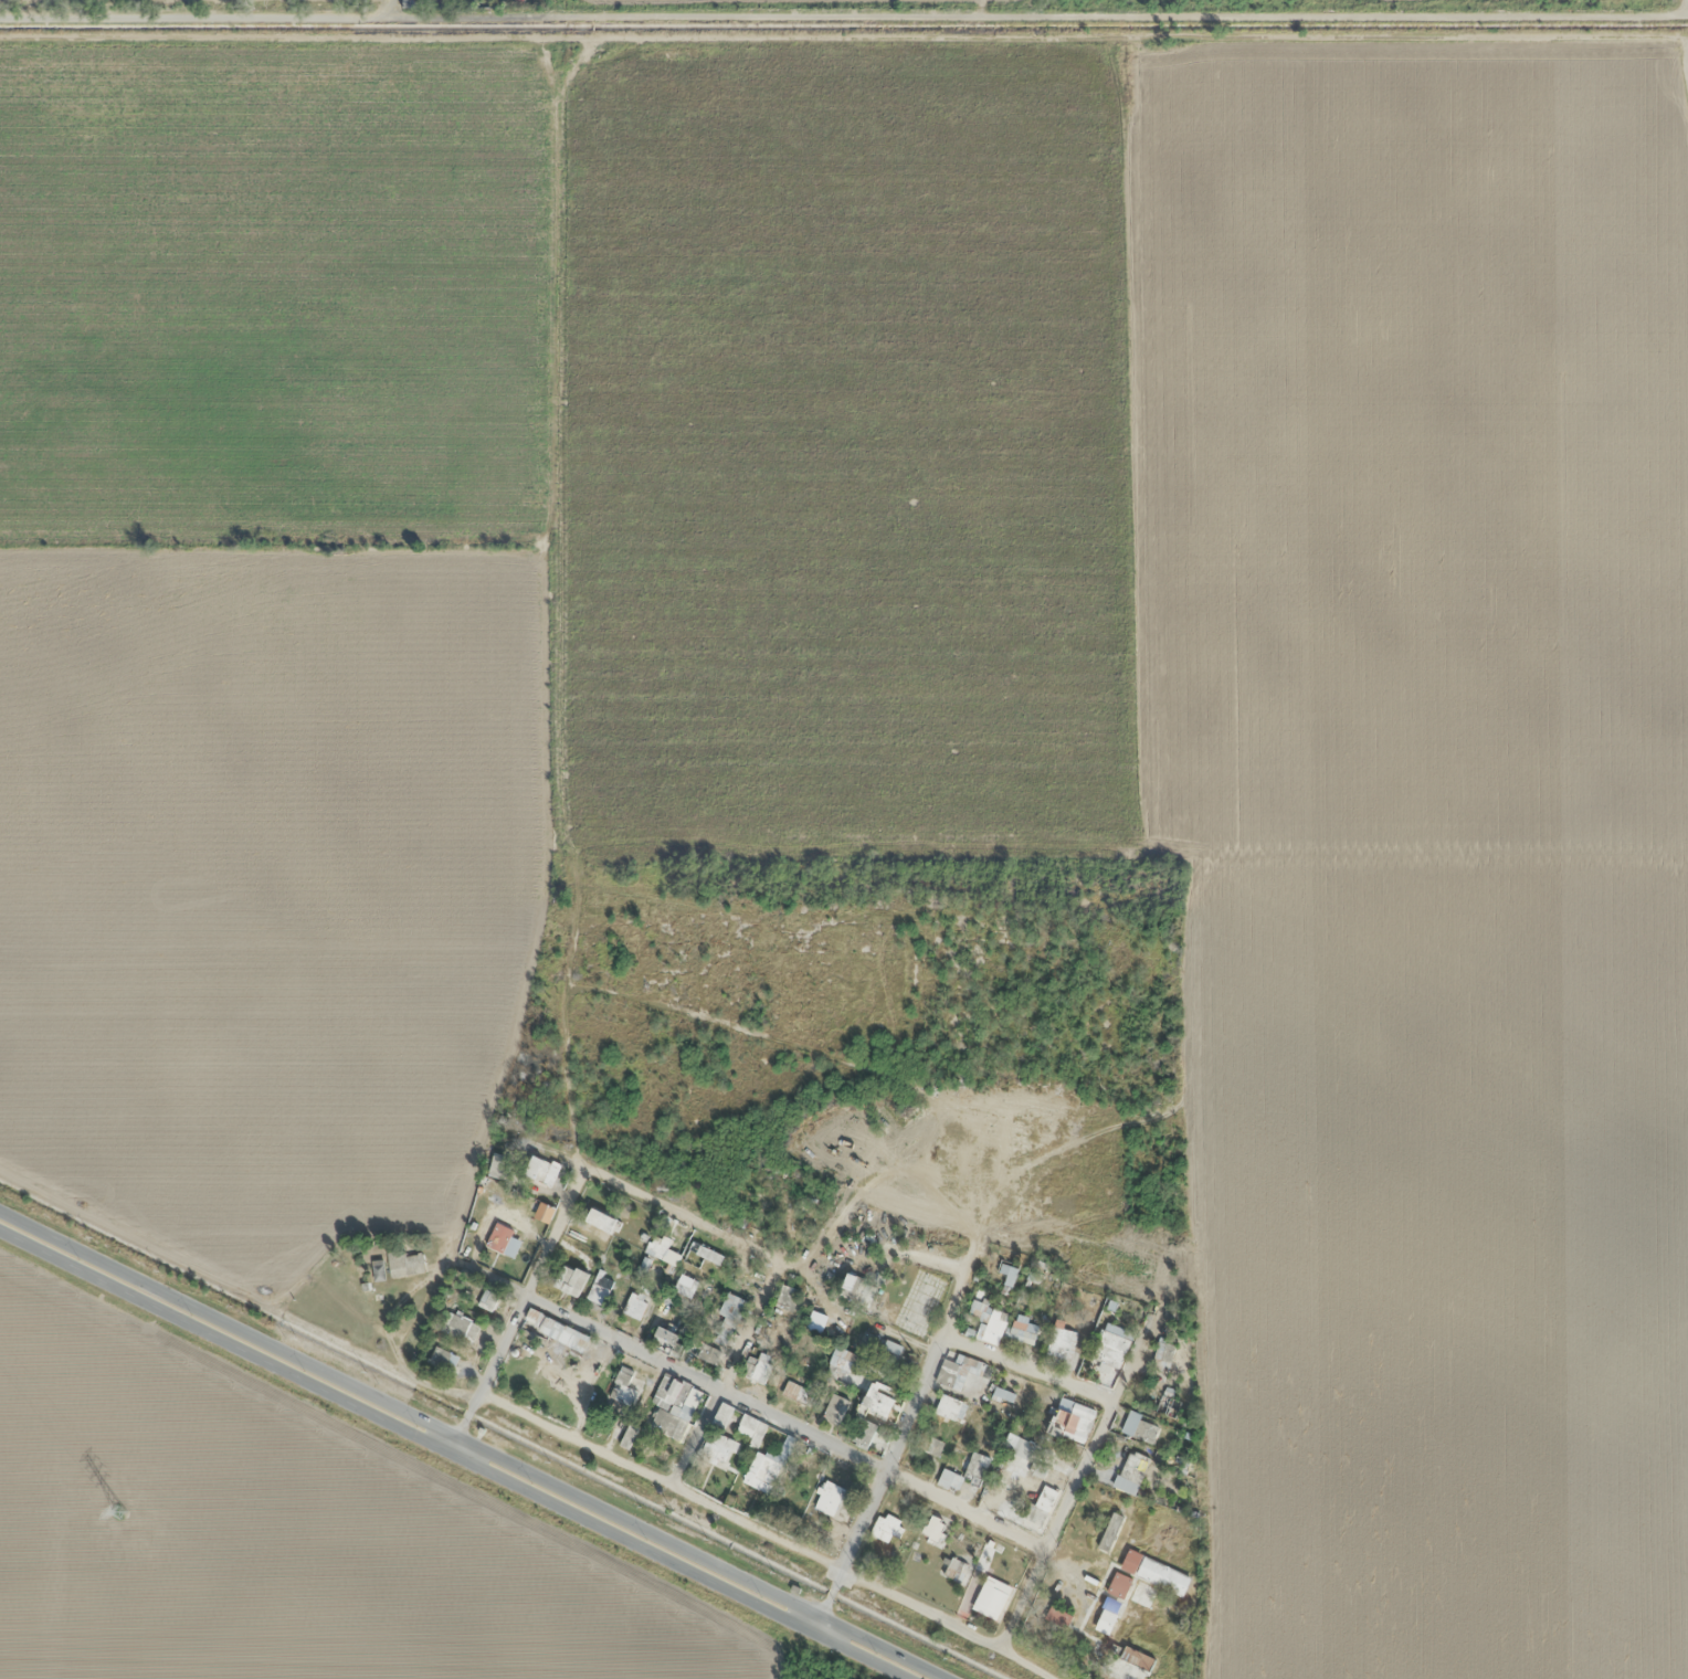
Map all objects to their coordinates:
power tower: (119, 1513)
power tower: (120, 1513)

